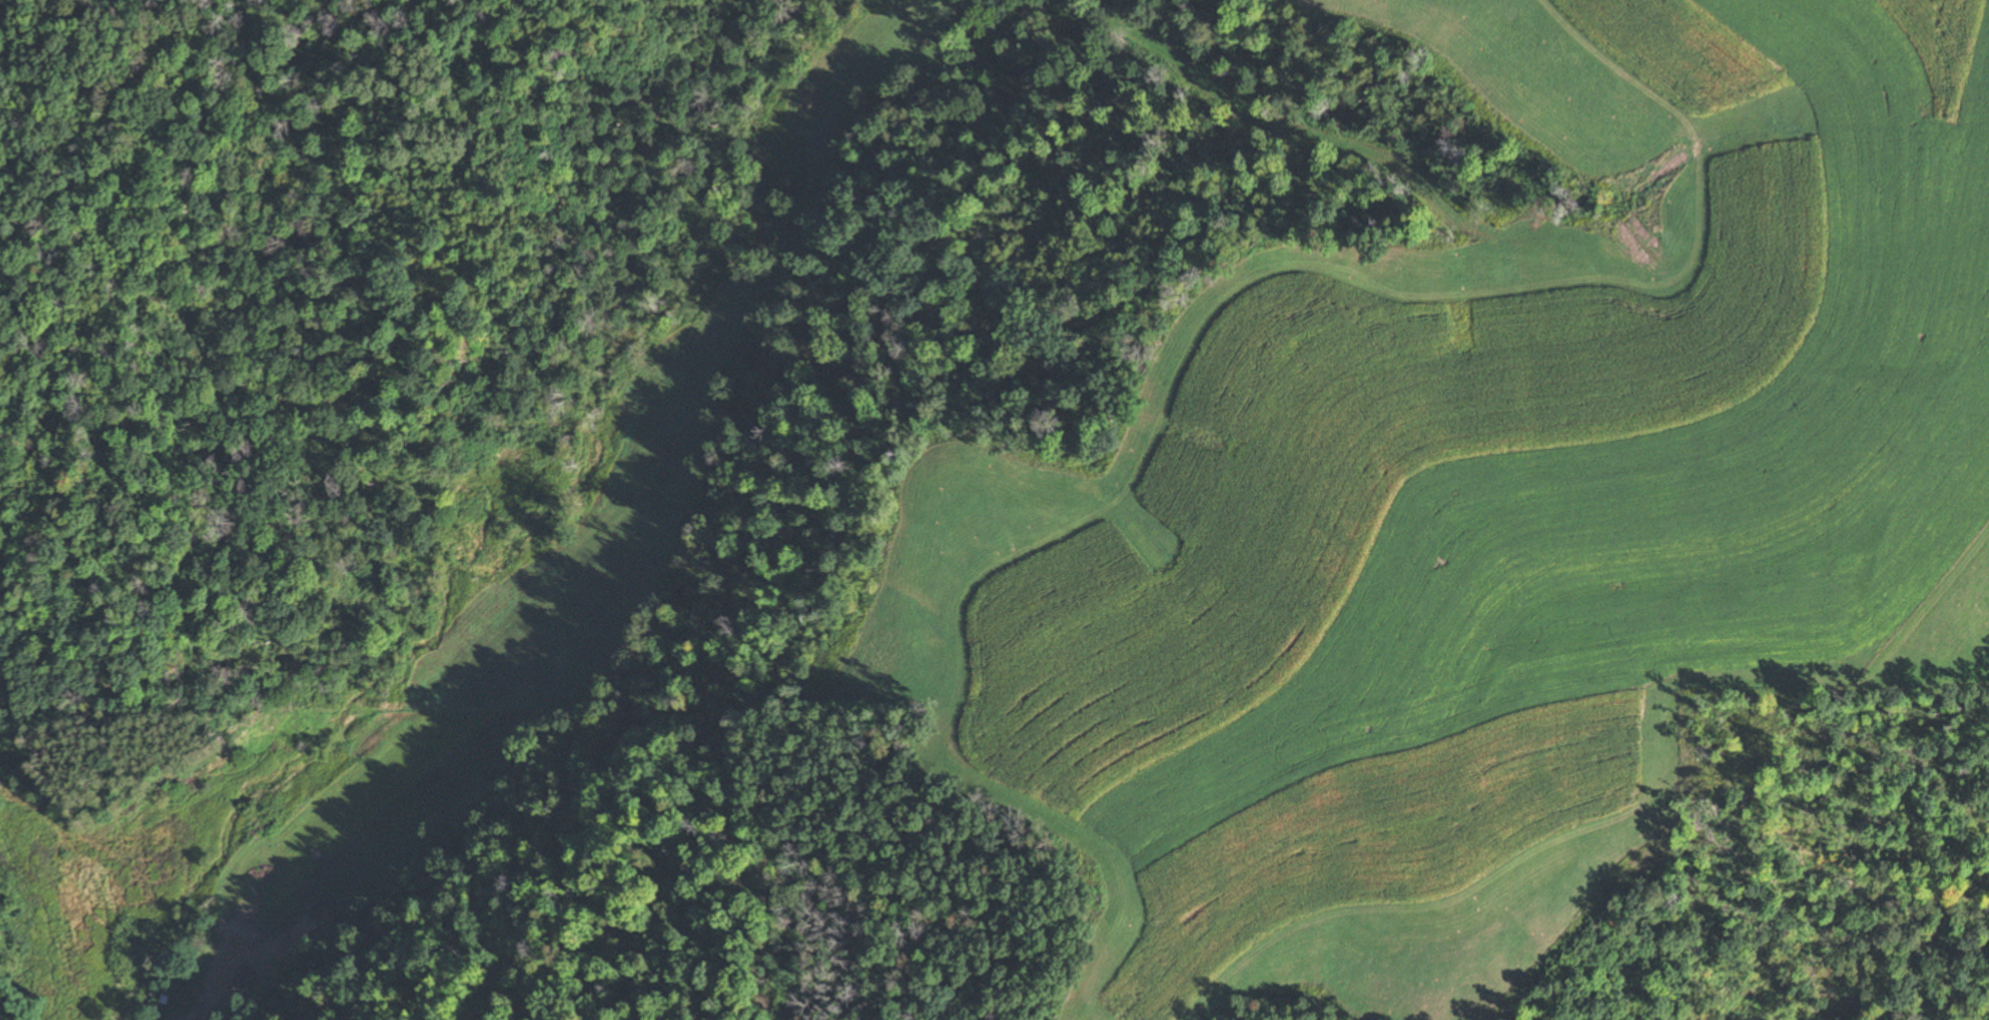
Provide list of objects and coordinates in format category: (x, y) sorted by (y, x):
crop: (1482, 513)

